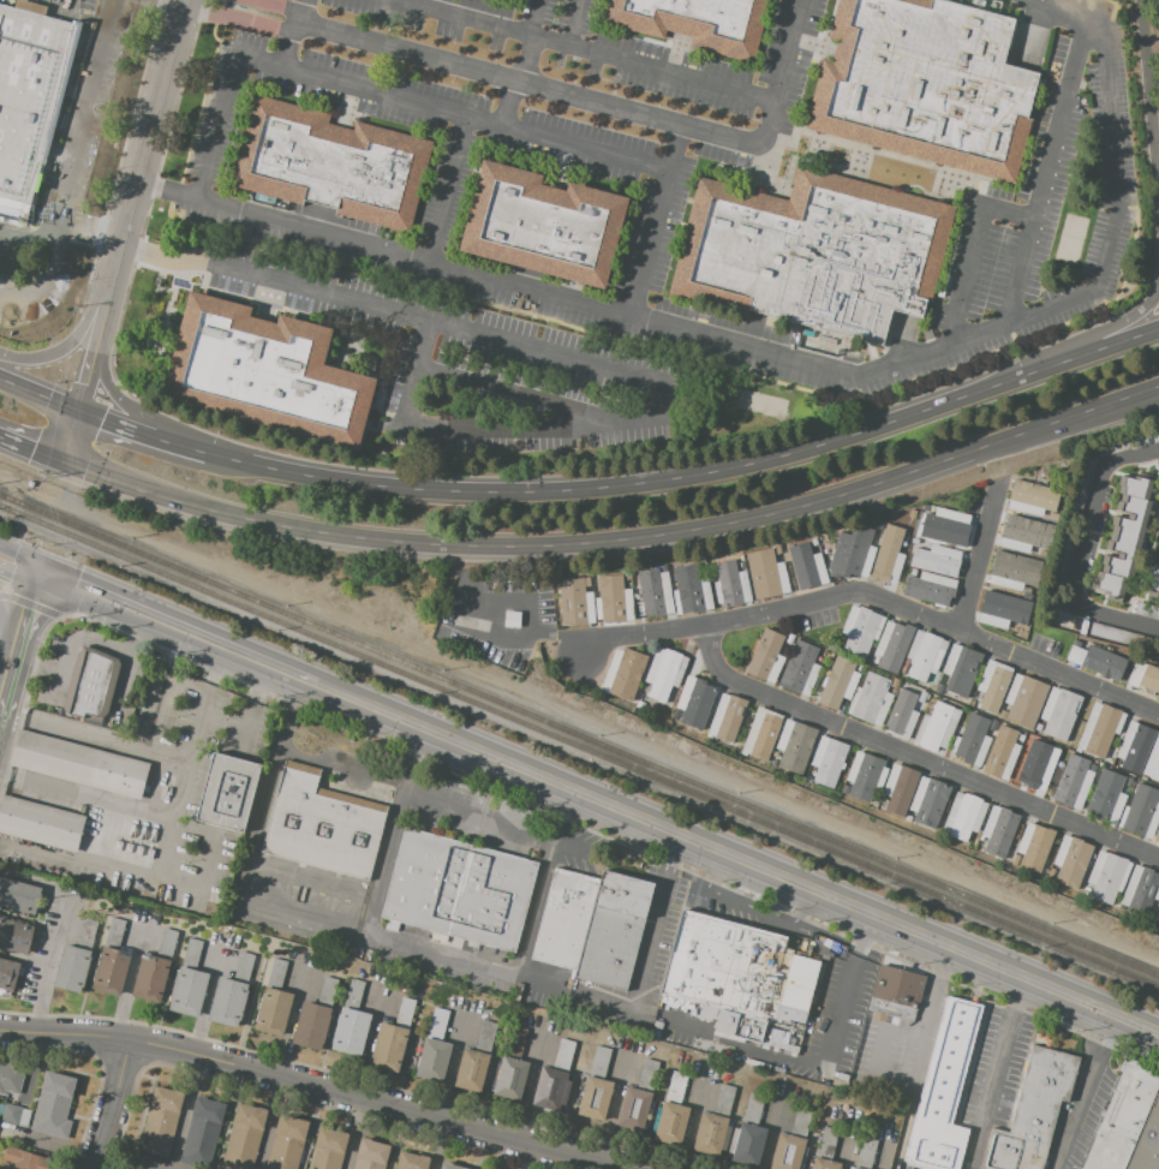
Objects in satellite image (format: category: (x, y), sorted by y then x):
road: (299, 7)
road: (533, 18)
road: (574, 23)
building: (694, 23)
road: (283, 30)
road: (586, 50)
road: (528, 60)
road: (785, 61)
building: (924, 84)
road: (544, 88)
building: (1119, 88)
road: (378, 93)
building: (1121, 94)
road: (1152, 96)
building: (29, 101)
road: (508, 103)
building: (1122, 105)
building: (1123, 130)
road: (145, 137)
building: (330, 163)
road: (68, 166)
road: (1041, 174)
road: (443, 187)
road: (657, 221)
road: (88, 223)
building: (544, 225)
road: (968, 249)
building: (814, 252)
road: (1, 269)
road: (102, 306)
road: (1094, 336)
road: (71, 340)
road: (785, 359)
road: (584, 364)
road: (86, 372)
building: (265, 372)
traffic signals: (85, 382)
road: (38, 394)
road: (519, 394)
road: (1140, 400)
road: (130, 411)
traffic signals: (106, 416)
road: (142, 428)
road: (70, 436)
road: (30, 452)
traffic signals: (30, 452)
building: (1158, 457)
road: (689, 476)
road: (876, 487)
building: (1081, 491)
building: (1032, 499)
building: (880, 524)
building: (948, 527)
road: (317, 533)
building: (1021, 533)
building: (1124, 537)
building: (813, 542)
road: (1082, 545)
building: (777, 549)
road: (20, 555)
building: (852, 555)
building: (943, 557)
road: (976, 557)
building: (1062, 560)
building: (888, 563)
building: (742, 565)
building: (807, 566)
building: (1014, 571)
building: (913, 572)
building: (766, 573)
road: (17, 574)
traffic signals: (10, 575)
building: (1151, 578)
road: (55, 579)
building: (730, 584)
traffic signals: (74, 588)
building: (930, 589)
building: (691, 590)
building: (655, 594)
road: (873, 597)
building: (613, 600)
road: (508, 601)
building: (575, 601)
traffic signals: (25, 609)
road: (24, 610)
building: (1002, 610)
building: (1146, 610)
building: (512, 619)
road: (7, 626)
building: (860, 630)
road: (538, 634)
building: (1119, 634)
road: (195, 636)
road: (71, 639)
building: (789, 639)
building: (1076, 644)
road: (6, 645)
building: (892, 645)
building: (925, 655)
building: (1075, 655)
building: (829, 656)
building: (766, 657)
building: (874, 658)
building: (1104, 662)
road: (35, 664)
building: (860, 667)
building: (799, 668)
road: (127, 669)
building: (960, 670)
road: (6, 672)
building: (623, 673)
building: (664, 673)
building: (1130, 676)
building: (1148, 680)
building: (837, 684)
building: (91, 685)
building: (895, 685)
building: (993, 685)
building: (938, 688)
building: (870, 699)
building: (1024, 700)
building: (694, 703)
building: (919, 703)
building: (640, 704)
road: (150, 710)
building: (1059, 712)
building: (1002, 714)
building: (902, 715)
building: (727, 717)
building: (936, 727)
building: (1038, 728)
building: (1099, 730)
road: (245, 733)
building: (761, 734)
railway: (579, 735)
building: (1021, 738)
road: (95, 739)
building: (970, 740)
building: (794, 745)
railway: (579, 747)
building: (1134, 747)
building: (1000, 753)
road: (192, 755)
road: (916, 758)
building: (829, 761)
building: (1153, 762)
building: (773, 763)
building: (79, 764)
building: (1092, 768)
building: (1034, 769)
building: (864, 775)
building: (808, 779)
building: (1074, 782)
building: (900, 787)
building: (844, 791)
building: (227, 792)
road: (229, 793)
road: (419, 793)
building: (1105, 797)
building: (928, 801)
building: (1141, 812)
building: (963, 816)
building: (907, 819)
building: (41, 823)
building: (322, 824)
building: (998, 830)
building: (1157, 835)
road: (562, 836)
road: (169, 842)
building: (229, 846)
building: (1034, 846)
road: (736, 859)
building: (1014, 860)
building: (1070, 860)
road: (384, 863)
building: (1050, 875)
building: (1107, 876)
road: (311, 878)
road: (205, 881)
building: (1141, 889)
building: (1085, 890)
building: (458, 891)
building: (18, 896)
building: (1158, 908)
road: (536, 912)
building: (1157, 918)
building: (591, 925)
road: (657, 925)
road: (60, 928)
building: (113, 934)
building: (86, 935)
building: (14, 936)
building: (167, 944)
road: (422, 953)
building: (191, 954)
building: (244, 967)
building: (72, 968)
building: (110, 971)
building: (431, 971)
building: (8, 973)
building: (276, 973)
building: (739, 977)
building: (150, 979)
building: (898, 986)
building: (189, 991)
building: (327, 991)
building: (353, 994)
building: (228, 1000)
building: (274, 1009)
building: (405, 1012)
building: (879, 1016)
building: (894, 1021)
road: (926, 1021)
building: (900, 1022)
building: (437, 1024)
building: (309, 1025)
building: (658, 1025)
building: (351, 1031)
building: (655, 1034)
building: (485, 1037)
building: (514, 1042)
building: (389, 1046)
building: (710, 1048)
building: (563, 1055)
building: (432, 1060)
building: (599, 1062)
building: (471, 1069)
road: (993, 1072)
building: (647, 1075)
building: (11, 1076)
building: (510, 1078)
building: (676, 1086)
road: (300, 1087)
building: (943, 1089)
building: (551, 1090)
road: (1091, 1092)
building: (595, 1098)
building: (724, 1101)
building: (53, 1103)
road: (112, 1105)
building: (1, 1109)
building: (634, 1109)
building: (752, 1109)
building: (1032, 1111)
building: (11, 1114)
building: (25, 1117)
building: (1121, 1120)
building: (162, 1121)
building: (801, 1121)
building: (673, 1122)
building: (203, 1133)
building: (710, 1133)
road: (770, 1133)
building: (245, 1137)
building: (1147, 1141)
building: (288, 1143)
building: (826, 1143)
building: (748, 1144)
building: (328, 1150)
building: (787, 1152)
building: (865, 1153)
building: (371, 1155)
building: (25, 1159)
building: (411, 1161)
building: (825, 1163)
building: (453, 1167)
building: (482, 1168)
building: (855, 1168)

